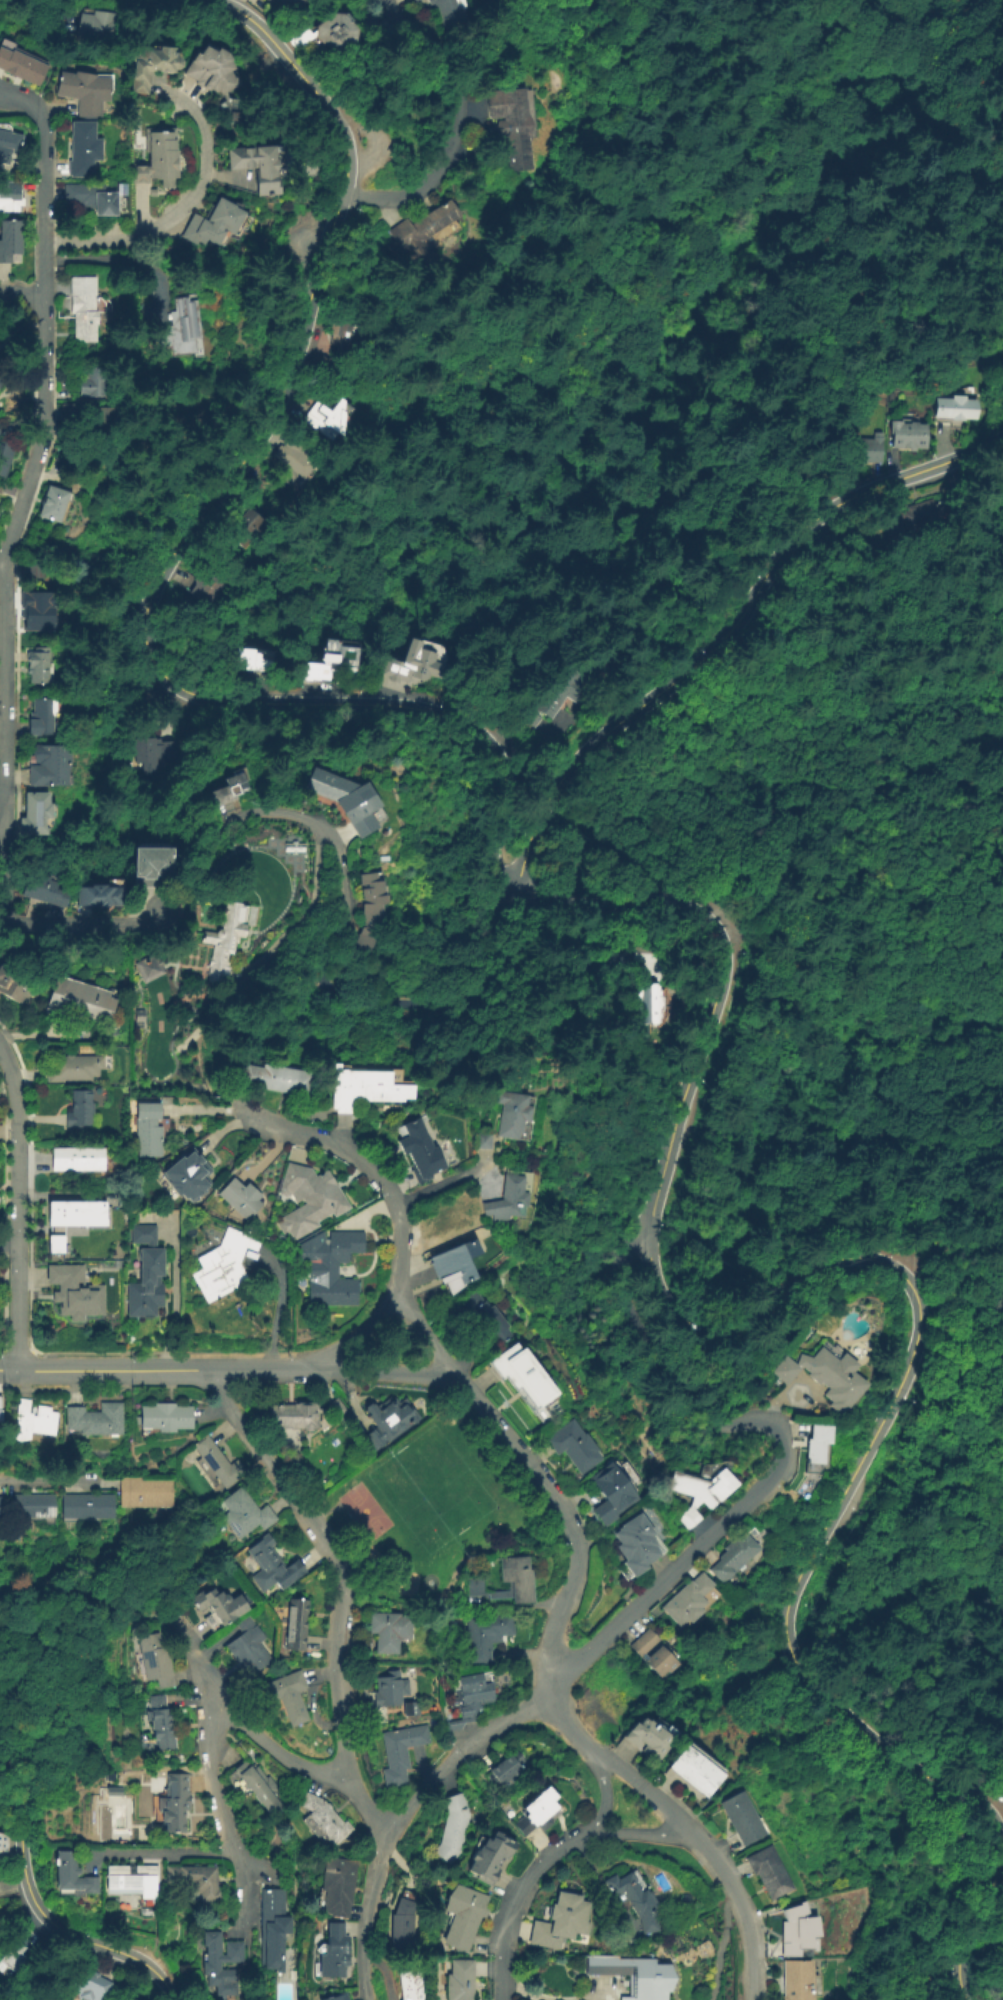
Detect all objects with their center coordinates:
building: (263, 0)
building: (411, 0)
building: (282, 5)
building: (448, 10)
road: (372, 21)
building: (89, 23)
building: (317, 32)
building: (143, 64)
building: (17, 66)
building: (200, 71)
road: (304, 81)
building: (79, 90)
road: (26, 99)
building: (511, 126)
road: (455, 128)
building: (10, 140)
road: (45, 147)
building: (79, 147)
building: (160, 156)
building: (263, 158)
building: (7, 193)
building: (91, 195)
road: (184, 206)
building: (218, 219)
building: (422, 231)
road: (45, 236)
building: (9, 239)
road: (22, 291)
building: (82, 305)
building: (181, 328)
building: (349, 334)
road: (619, 335)
building: (320, 360)
building: (88, 383)
building: (22, 397)
building: (951, 405)
building: (67, 411)
building: (324, 414)
building: (101, 415)
road: (44, 429)
building: (904, 433)
building: (863, 448)
building: (4, 458)
building: (297, 461)
road: (917, 472)
building: (56, 505)
building: (917, 511)
building: (250, 525)
road: (2, 558)
building: (36, 570)
building: (205, 589)
building: (40, 612)
building: (338, 653)
road: (151, 654)
building: (255, 659)
building: (412, 660)
building: (39, 664)
road: (5, 675)
building: (561, 690)
road: (665, 690)
building: (40, 715)
building: (531, 719)
building: (156, 751)
building: (50, 763)
building: (225, 786)
building: (348, 797)
building: (36, 812)
road: (336, 840)
road: (901, 857)
building: (150, 861)
building: (44, 888)
building: (101, 891)
building: (371, 907)
road: (679, 908)
building: (223, 939)
building: (148, 966)
building: (9, 985)
building: (77, 999)
building: (650, 1002)
building: (73, 1066)
building: (276, 1077)
building: (366, 1084)
building: (79, 1109)
building: (509, 1112)
building: (147, 1127)
building: (482, 1139)
road: (338, 1147)
building: (418, 1148)
building: (78, 1158)
building: (189, 1176)
road: (441, 1185)
building: (312, 1193)
building: (509, 1195)
building: (240, 1196)
road: (18, 1206)
building: (65, 1221)
road: (9, 1246)
building: (223, 1264)
building: (331, 1264)
building: (453, 1264)
building: (147, 1273)
building: (75, 1292)
building: (487, 1314)
road: (424, 1331)
road: (357, 1333)
road: (101, 1352)
road: (915, 1352)
road: (17, 1353)
road: (242, 1353)
road: (7, 1369)
road: (256, 1369)
road: (109, 1370)
road: (380, 1370)
building: (528, 1379)
building: (830, 1379)
road: (164, 1386)
road: (206, 1386)
road: (66, 1389)
building: (302, 1412)
building: (166, 1417)
building: (388, 1417)
building: (96, 1418)
building: (33, 1419)
building: (574, 1444)
building: (819, 1450)
road: (783, 1459)
building: (219, 1462)
road: (43, 1480)
park: (431, 1488)
building: (612, 1492)
building: (146, 1494)
building: (703, 1495)
building: (1, 1504)
building: (32, 1504)
building: (89, 1505)
park: (430, 1509)
building: (245, 1511)
park: (365, 1511)
road: (562, 1519)
building: (639, 1547)
building: (738, 1559)
building: (267, 1567)
building: (520, 1583)
road: (343, 1587)
building: (692, 1602)
building: (219, 1604)
building: (296, 1621)
building: (387, 1633)
building: (482, 1635)
building: (247, 1649)
building: (657, 1656)
building: (152, 1662)
road: (200, 1666)
building: (387, 1692)
building: (289, 1697)
building: (471, 1701)
building: (409, 1709)
building: (162, 1722)
building: (651, 1738)
road: (275, 1750)
building: (398, 1751)
building: (507, 1770)
building: (699, 1770)
building: (252, 1787)
road: (606, 1798)
building: (174, 1802)
building: (538, 1810)
road: (221, 1815)
road: (400, 1819)
building: (744, 1819)
building: (324, 1820)
road: (683, 1826)
building: (452, 1827)
road: (638, 1832)
road: (23, 1843)
building: (4, 1847)
road: (169, 1853)
building: (492, 1856)
building: (70, 1873)
building: (770, 1873)
building: (129, 1878)
building: (196, 1881)
building: (335, 1884)
road: (515, 1900)
building: (633, 1902)
building: (464, 1916)
building: (562, 1922)
building: (401, 1923)
building: (274, 1928)
building: (802, 1931)
road: (976, 1933)
building: (332, 1950)
building: (15, 1957)
building: (222, 1962)
building: (634, 1975)
building: (463, 1978)
building: (799, 1980)
road: (920, 1982)
building: (410, 1983)
building: (88, 1986)
road: (522, 1993)
road: (606, 1994)
building: (334, 1997)

